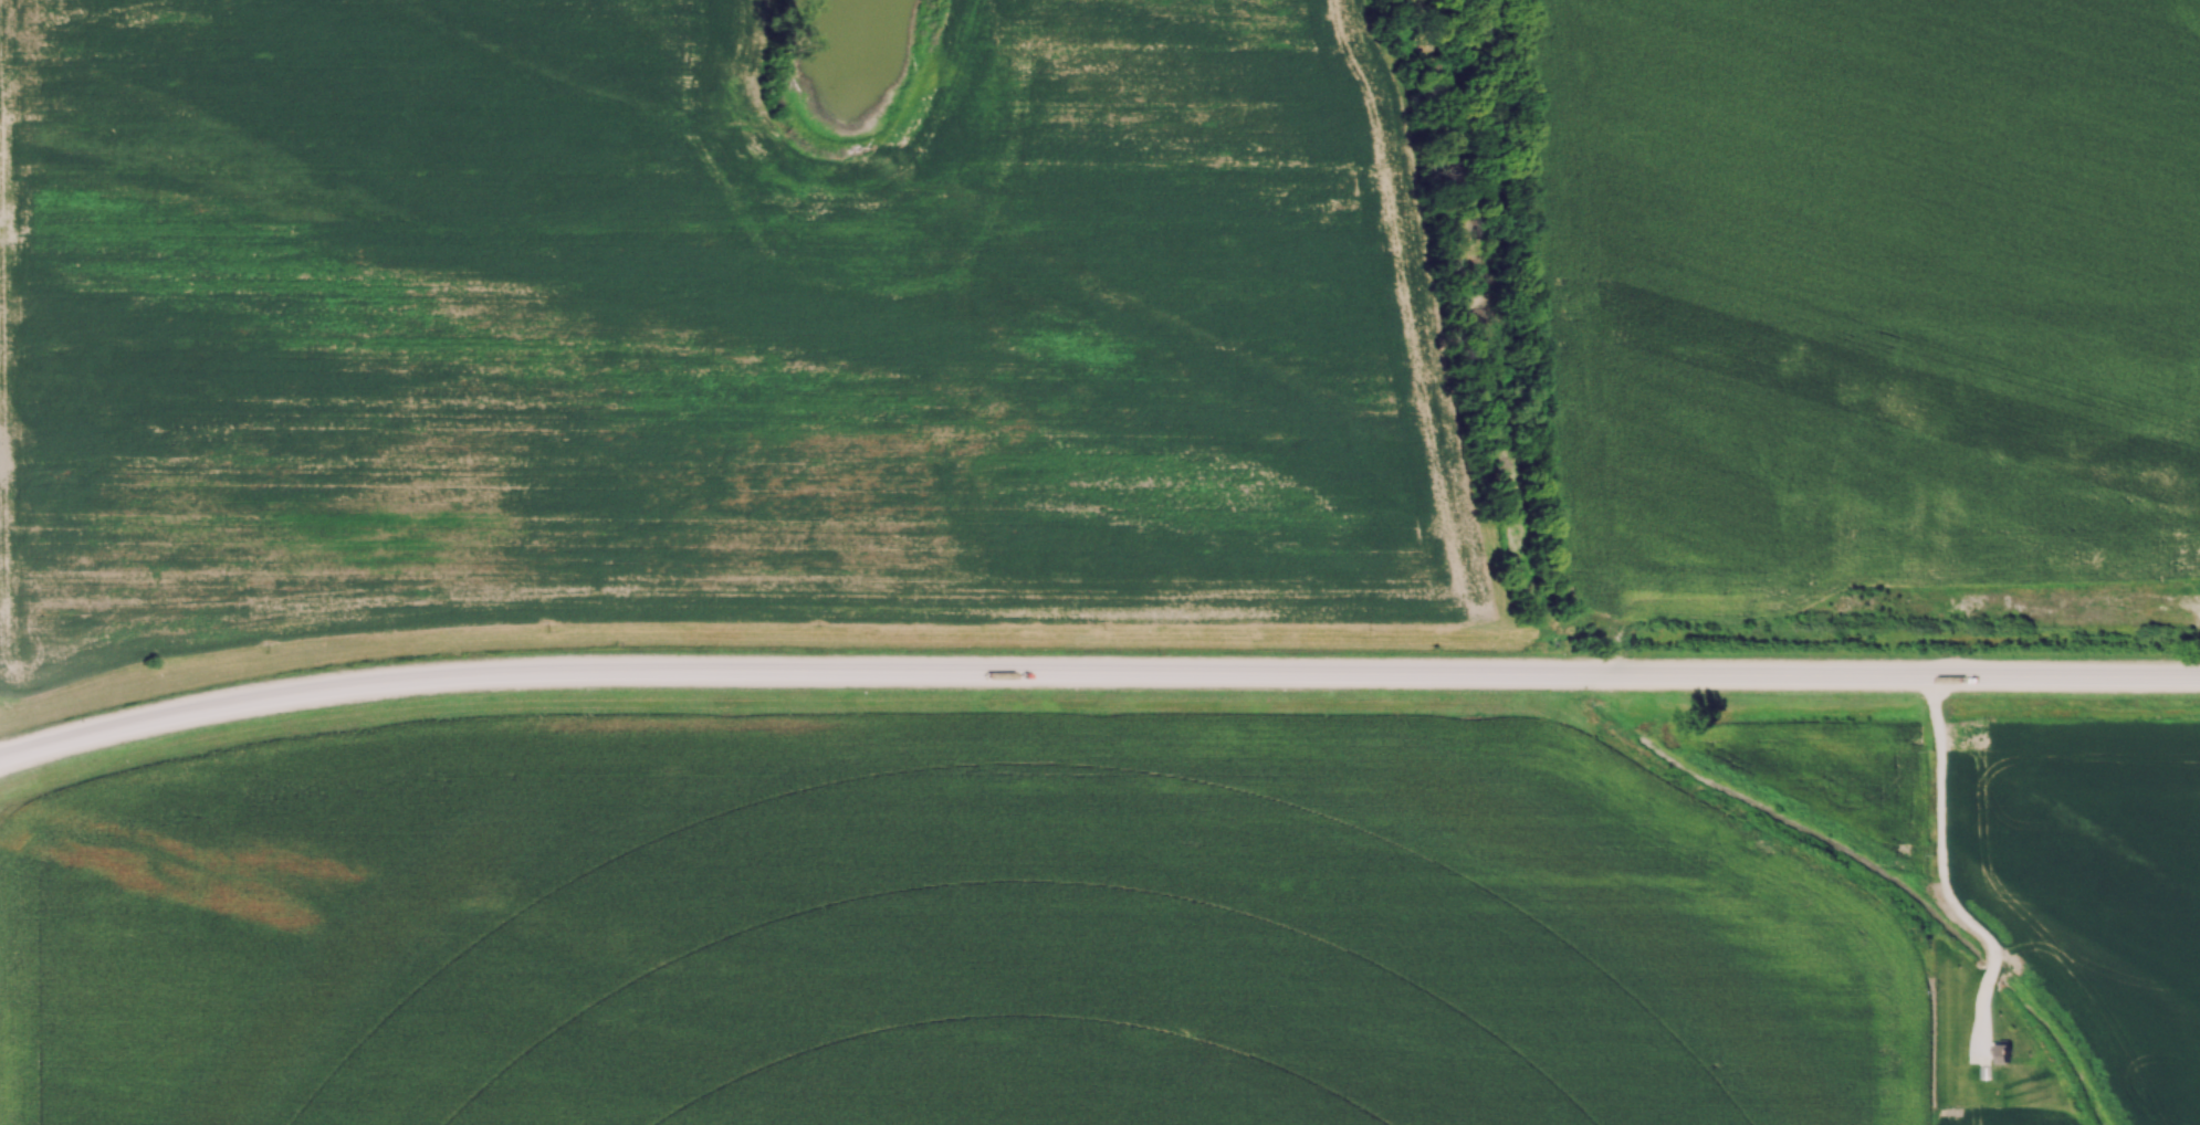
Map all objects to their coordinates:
road: (1096, 672)
road: (1944, 868)

